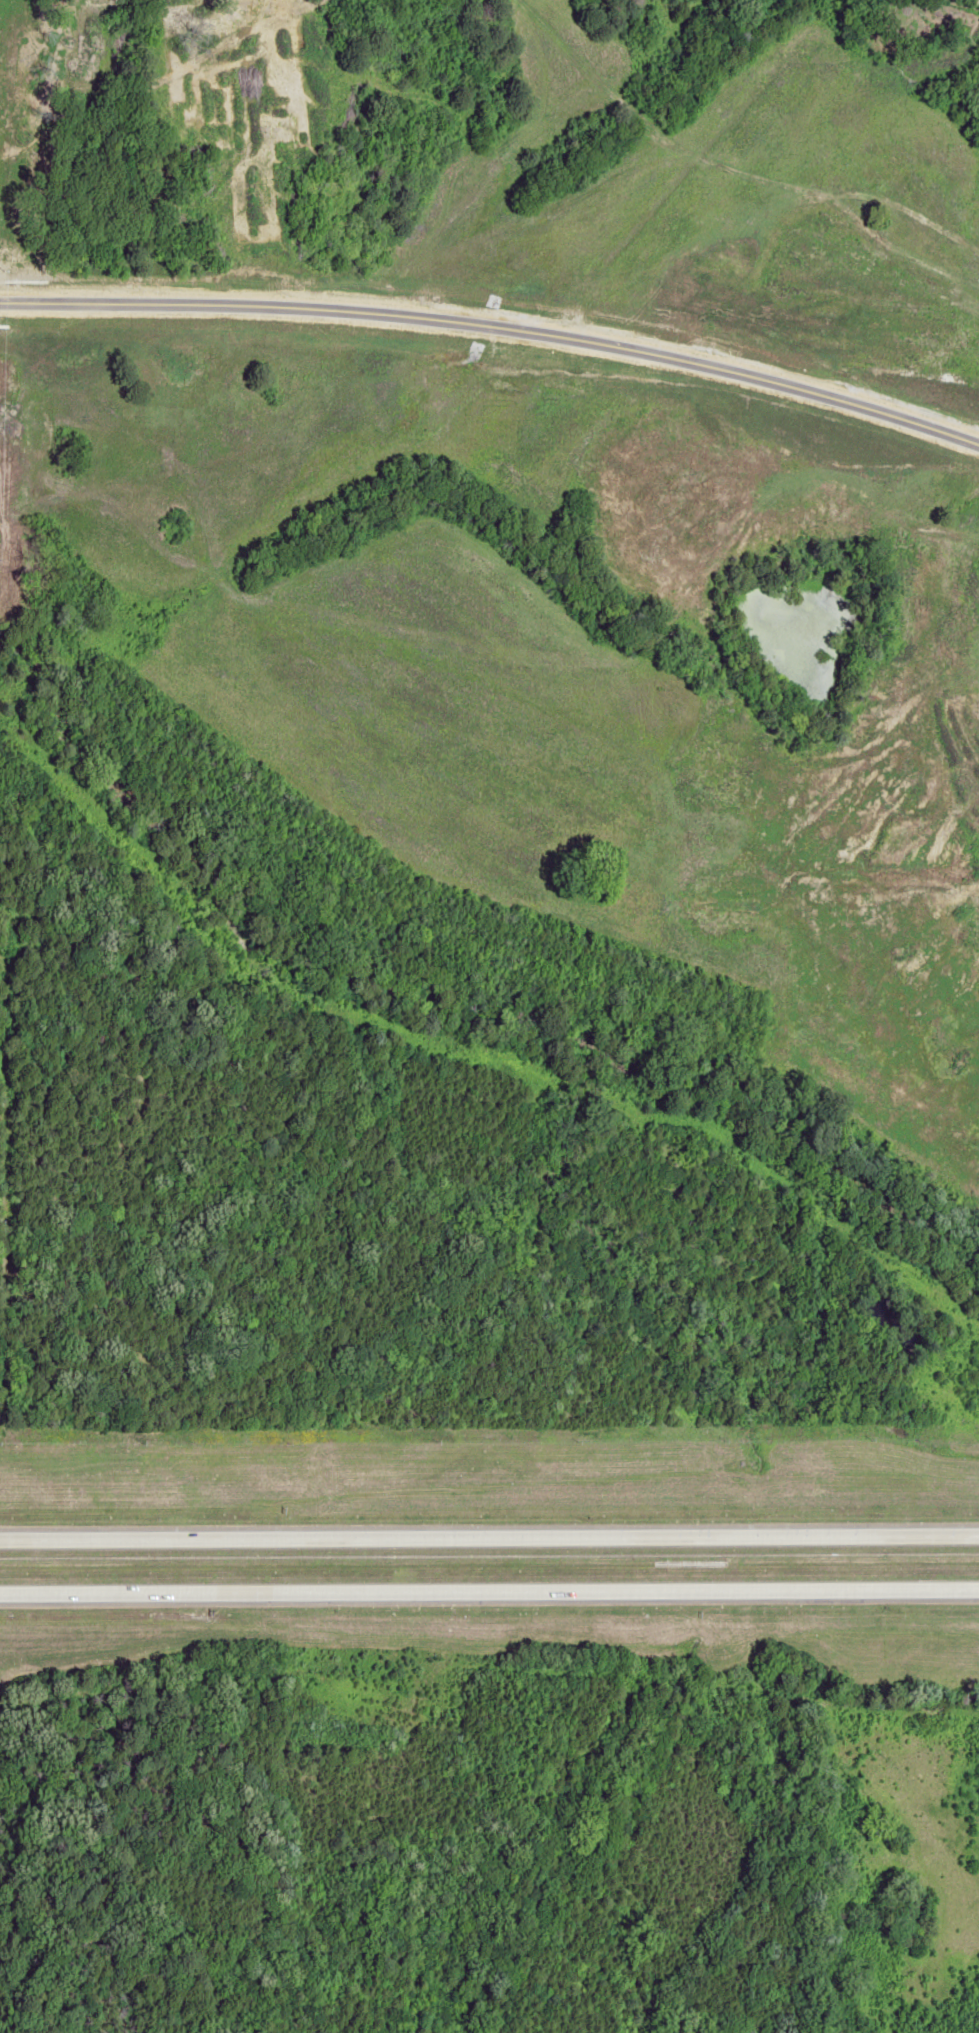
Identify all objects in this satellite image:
road: (489, 1535)
road: (489, 1598)

